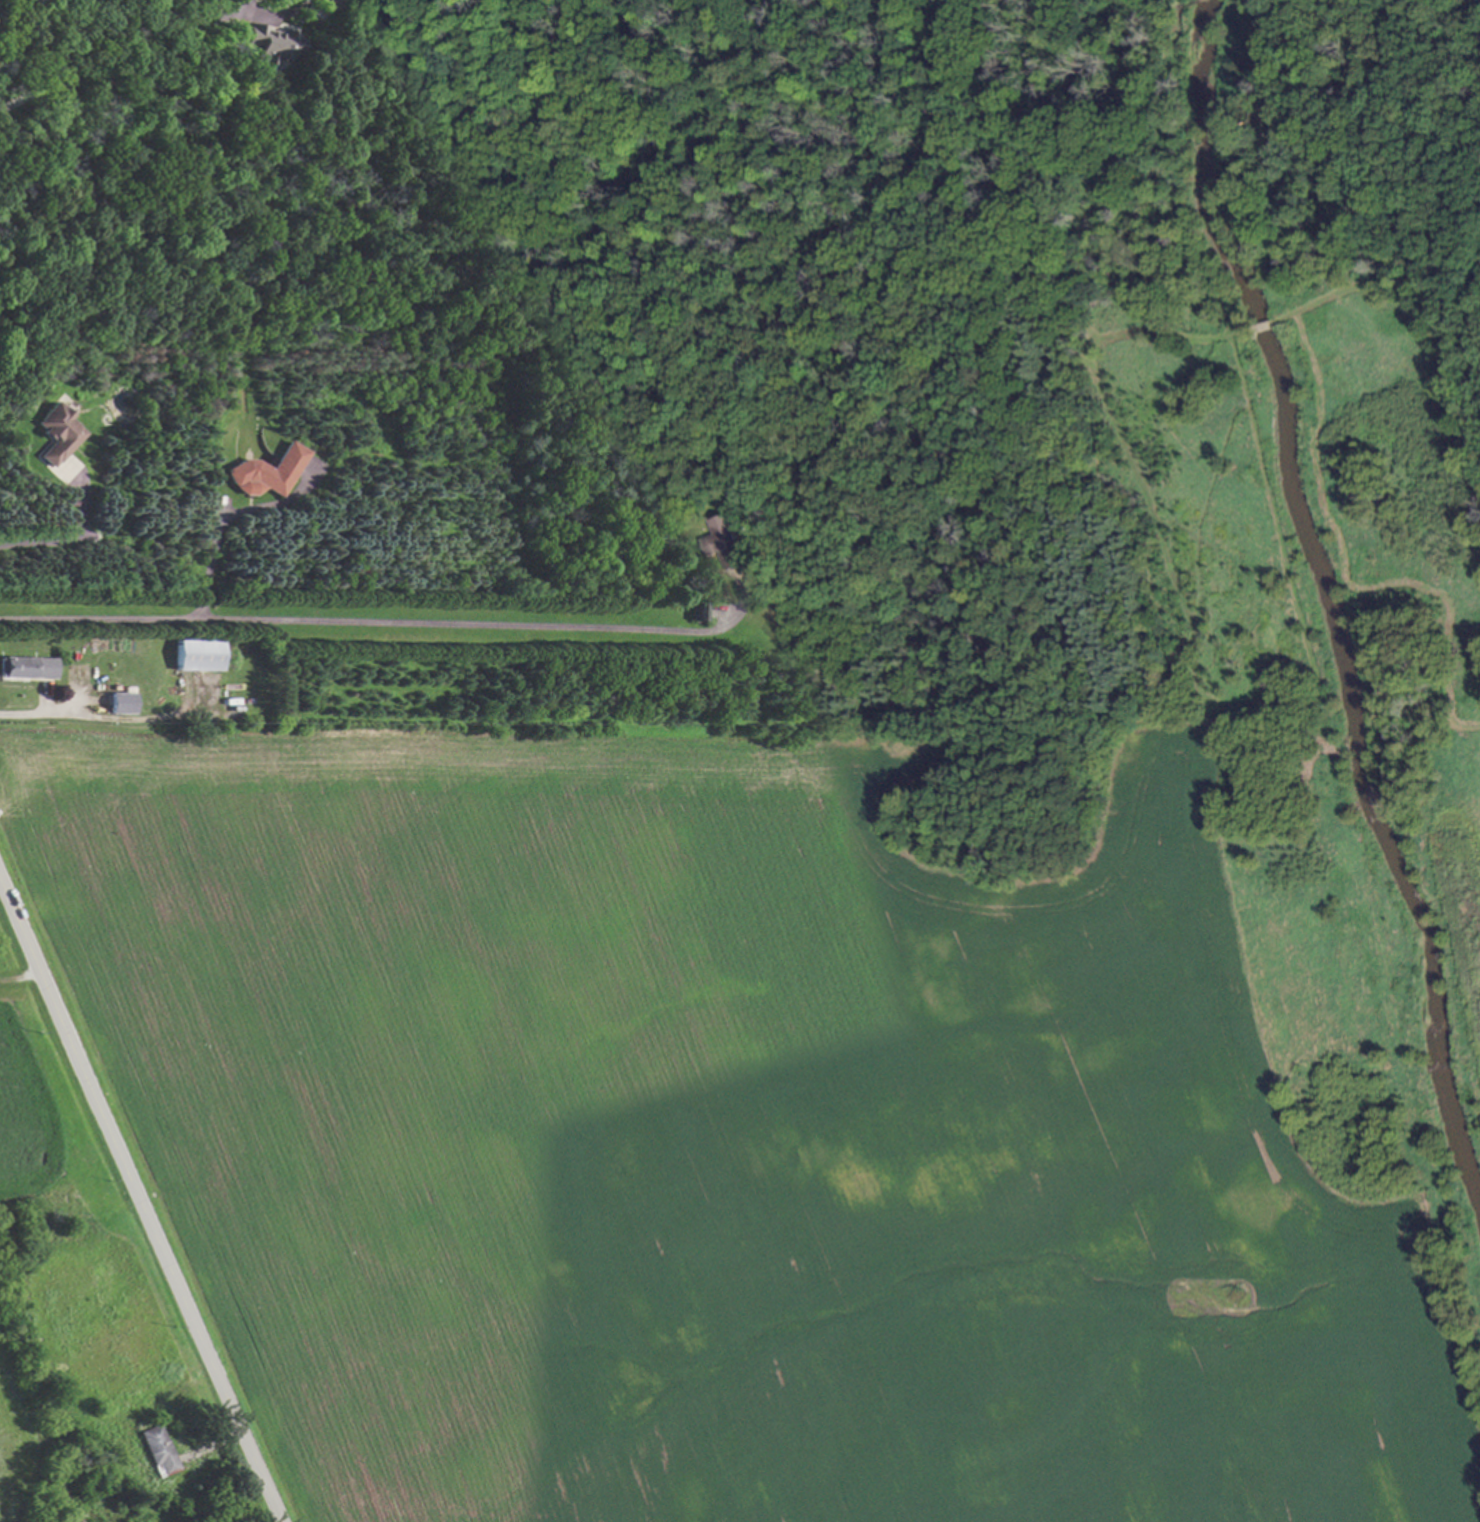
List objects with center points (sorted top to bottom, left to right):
building: (324, 4)
road: (238, 7)
road: (273, 18)
building: (263, 44)
road: (109, 46)
building: (56, 433)
building: (264, 471)
road: (72, 538)
building: (729, 539)
road: (389, 625)
building: (27, 667)
building: (121, 702)
road: (24, 716)
crop: (1460, 884)
road: (21, 979)
crop: (21, 1115)
crop: (725, 1138)
road: (136, 1199)
crop: (10, 1447)

